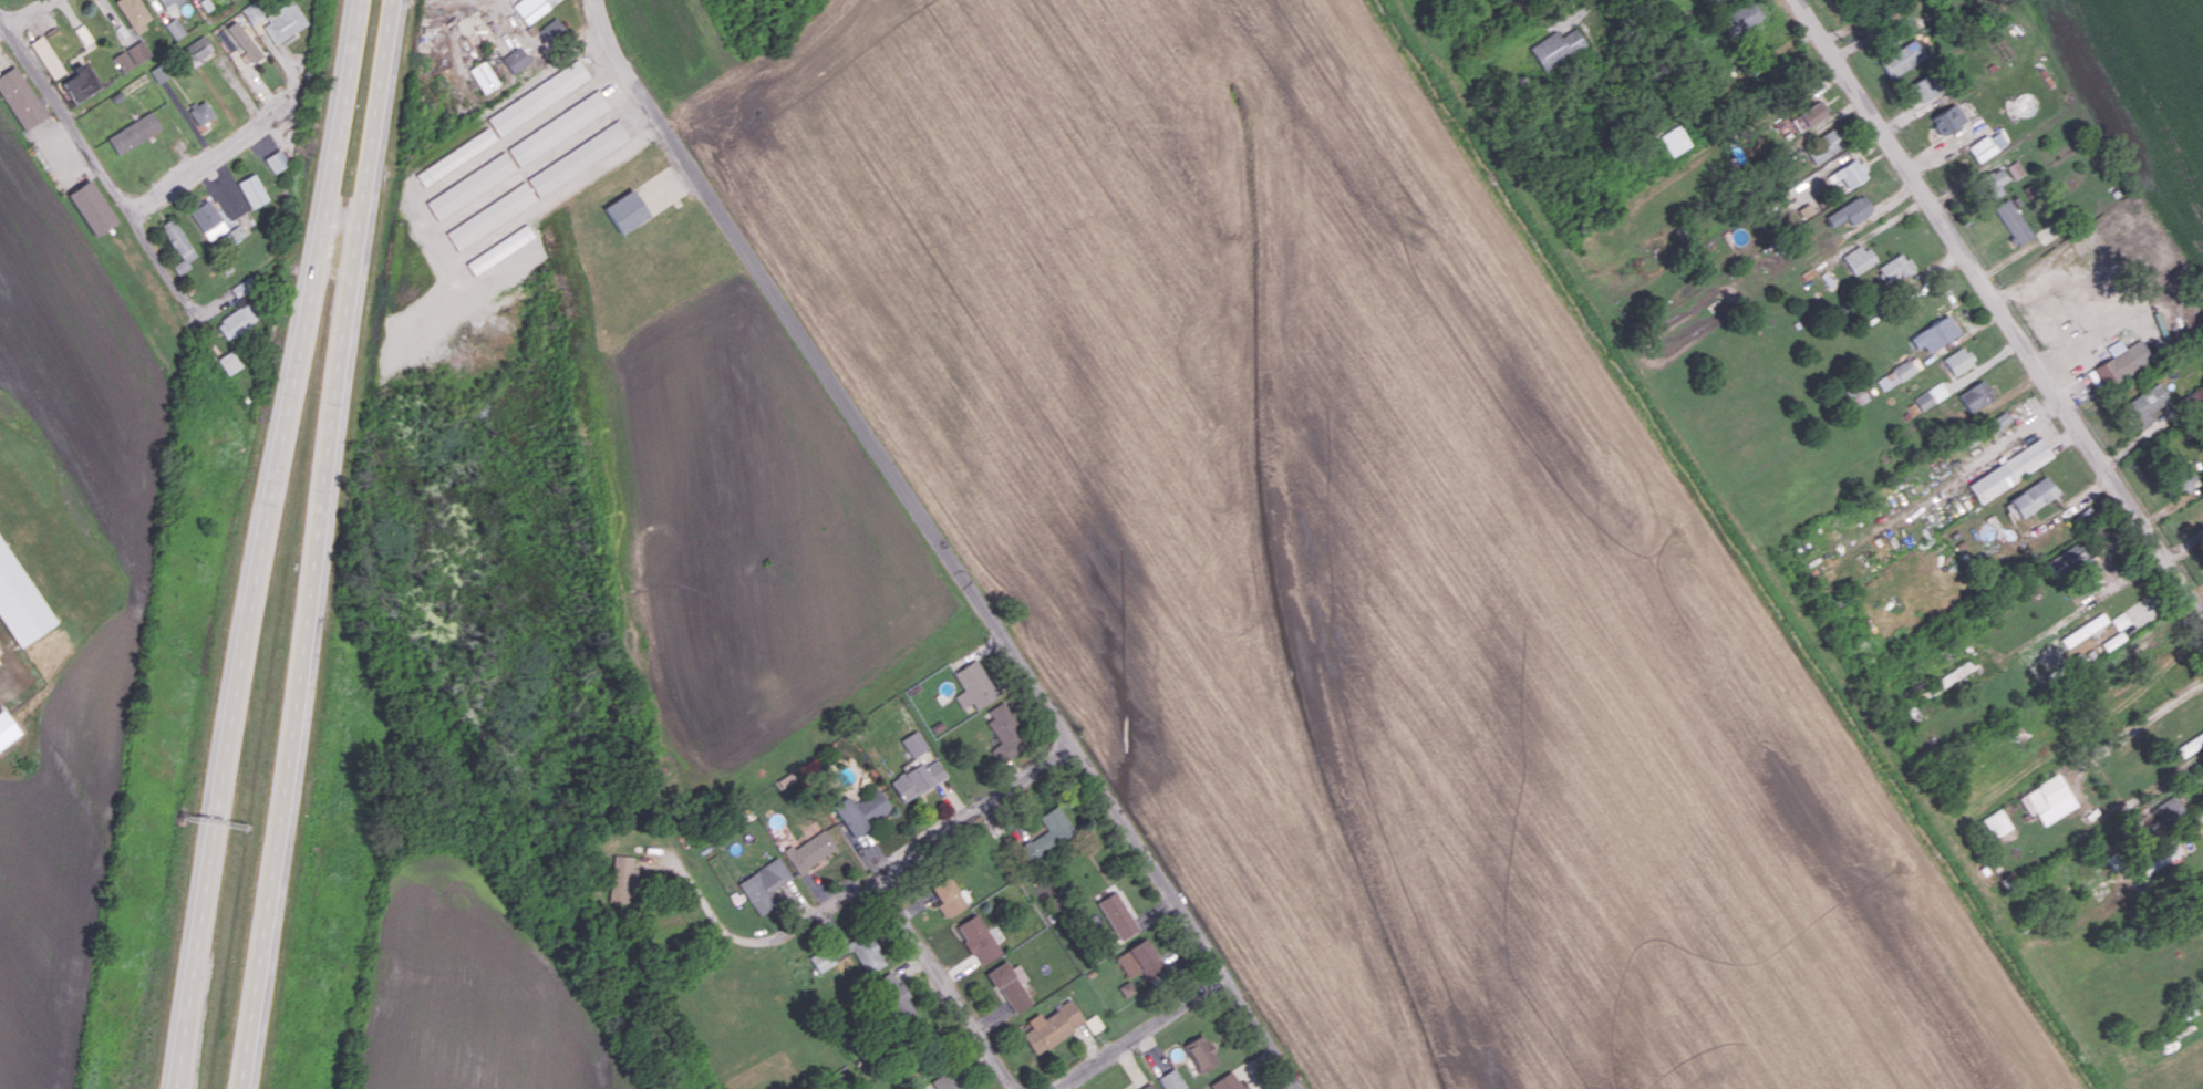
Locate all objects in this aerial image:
building: (1719, 1)
building: (169, 3)
building: (530, 9)
road: (1582, 10)
building: (252, 12)
road: (28, 13)
building: (134, 13)
building: (1740, 18)
building: (285, 21)
building: (174, 28)
building: (552, 30)
building: (226, 40)
building: (245, 41)
building: (1558, 48)
building: (197, 49)
building: (132, 55)
building: (46, 56)
building: (1902, 58)
building: (516, 59)
building: (484, 76)
building: (80, 82)
building: (1923, 89)
building: (539, 96)
building: (20, 97)
road: (63, 112)
building: (200, 112)
building: (1809, 114)
building: (1947, 118)
building: (559, 127)
building: (133, 132)
building: (1675, 139)
building: (1823, 146)
building: (1986, 146)
road: (205, 156)
building: (456, 156)
building: (578, 157)
building: (277, 160)
building: (2015, 169)
building: (1849, 173)
road: (1975, 175)
building: (1993, 183)
building: (470, 185)
building: (252, 190)
building: (92, 207)
building: (624, 210)
building: (1850, 210)
building: (490, 215)
building: (207, 219)
building: (2013, 221)
building: (235, 232)
road: (338, 238)
building: (177, 245)
building: (500, 249)
building: (1859, 258)
road: (166, 262)
building: (1895, 268)
building: (239, 288)
road: (239, 292)
road: (1998, 310)
building: (237, 319)
road: (2038, 319)
building: (1933, 335)
building: (1958, 360)
building: (229, 362)
building: (2121, 362)
building: (1895, 375)
building: (1856, 395)
building: (1976, 395)
building: (1931, 396)
building: (2145, 405)
building: (1999, 419)
road: (2047, 428)
building: (2009, 470)
building: (2181, 473)
building: (2033, 496)
road: (270, 543)
road: (316, 543)
road: (943, 547)
building: (2068, 561)
crop: (134, 593)
building: (21, 600)
building: (2120, 620)
building: (2083, 630)
building: (1951, 676)
building: (974, 685)
building: (7, 728)
building: (1005, 729)
building: (913, 743)
building: (917, 779)
building: (2048, 799)
building: (873, 806)
building: (2158, 816)
building: (850, 817)
building: (1997, 822)
building: (1048, 832)
road: (921, 849)
building: (809, 851)
building: (622, 879)
building: (764, 884)
building: (948, 896)
building: (1117, 915)
building: (978, 938)
building: (865, 951)
building: (1139, 960)
road: (950, 982)
building: (1010, 985)
crop: (469, 993)
building: (893, 997)
building: (1093, 1023)
building: (1052, 1026)
road: (1142, 1031)
building: (1201, 1052)
building: (949, 1080)
building: (1171, 1080)
building: (1228, 1081)
building: (1146, 1086)

